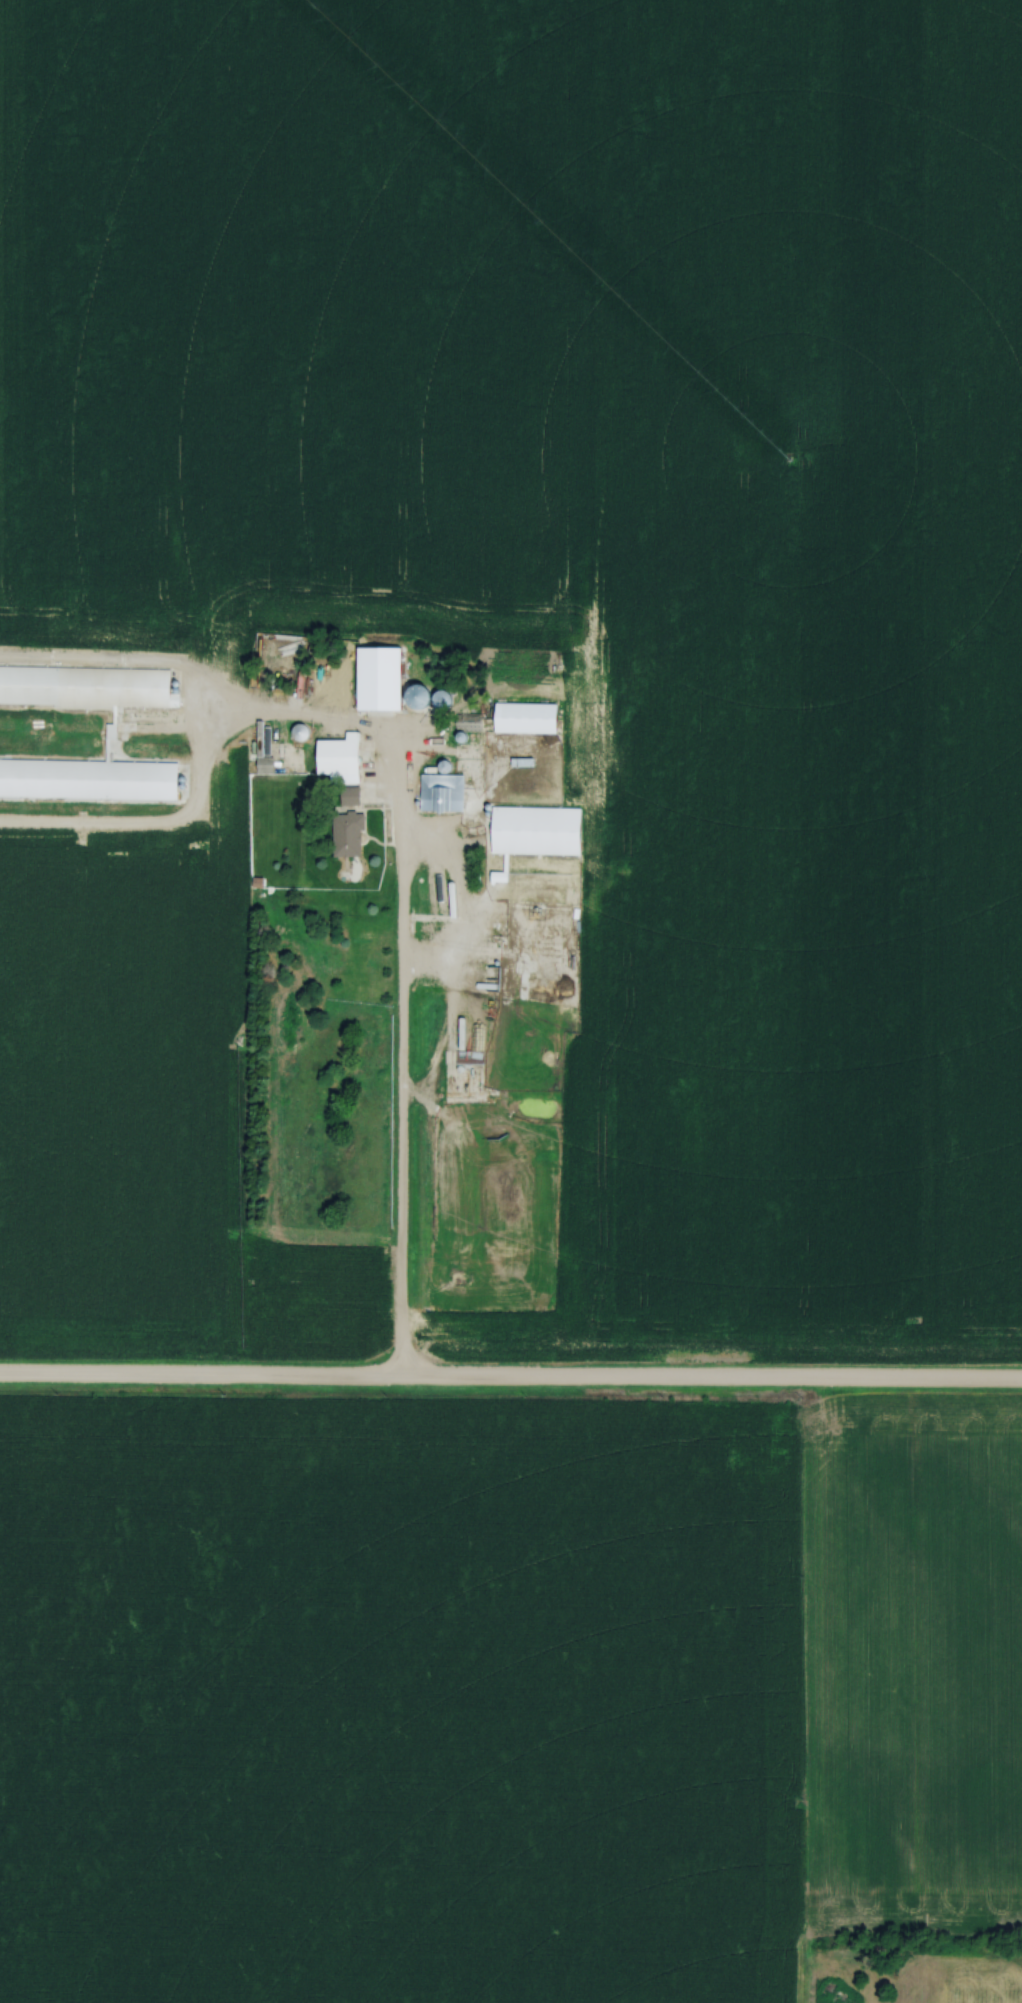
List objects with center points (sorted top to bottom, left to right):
building: (86, 687)
building: (380, 695)
building: (525, 717)
building: (339, 758)
building: (440, 792)
building: (345, 796)
building: (523, 816)
building: (346, 834)
building: (557, 907)
building: (468, 1056)
road: (399, 1082)
road: (510, 1379)

